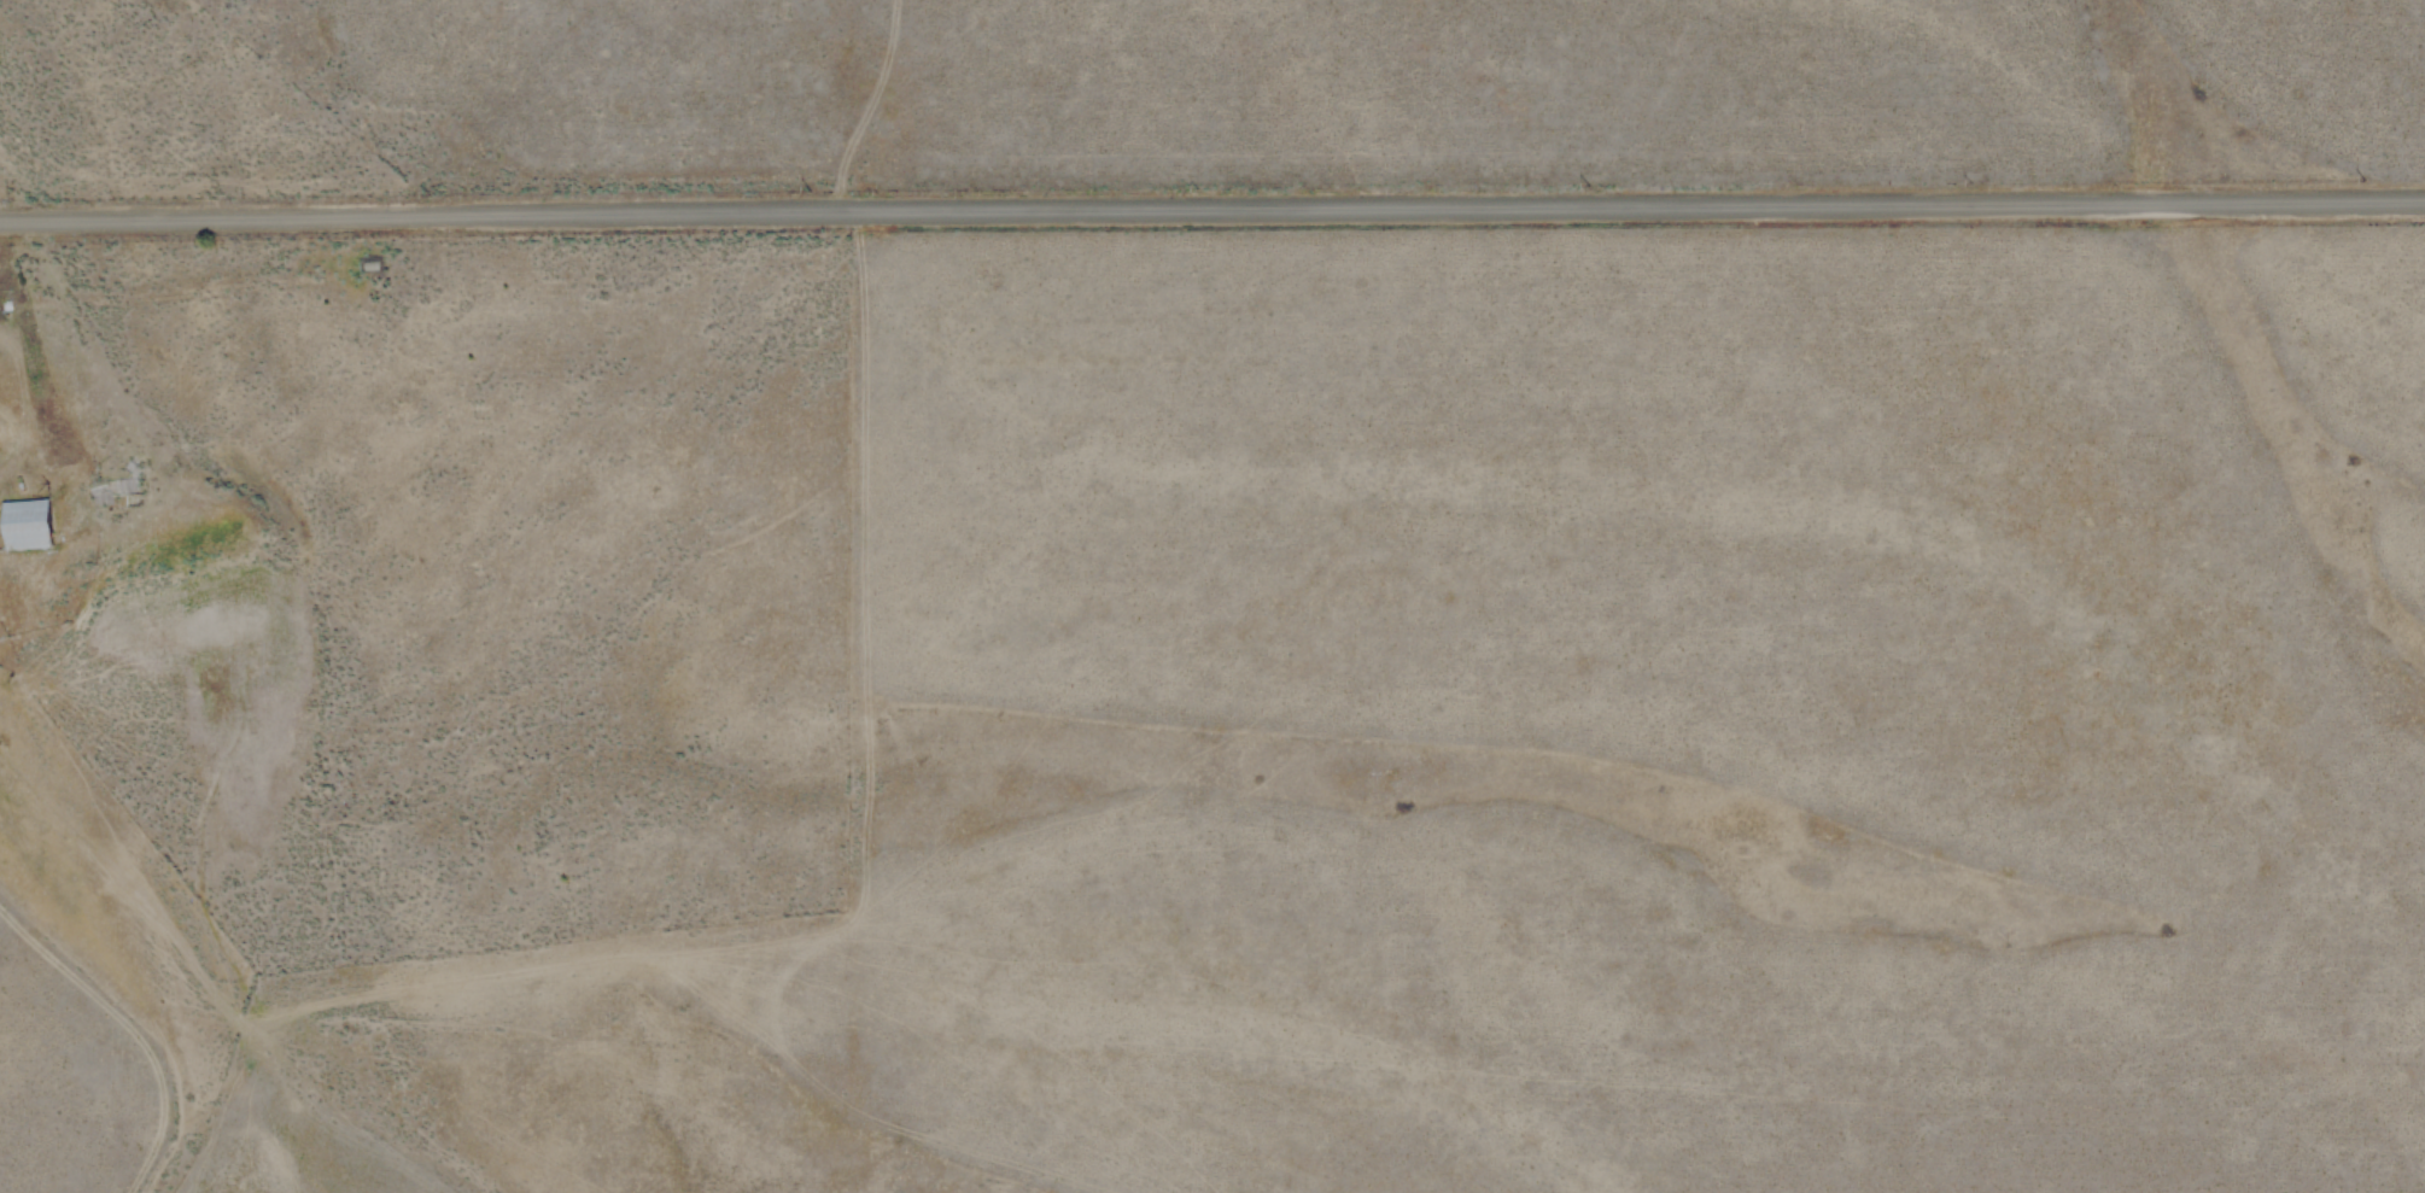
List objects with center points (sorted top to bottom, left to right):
road: (1212, 211)
building: (22, 526)

